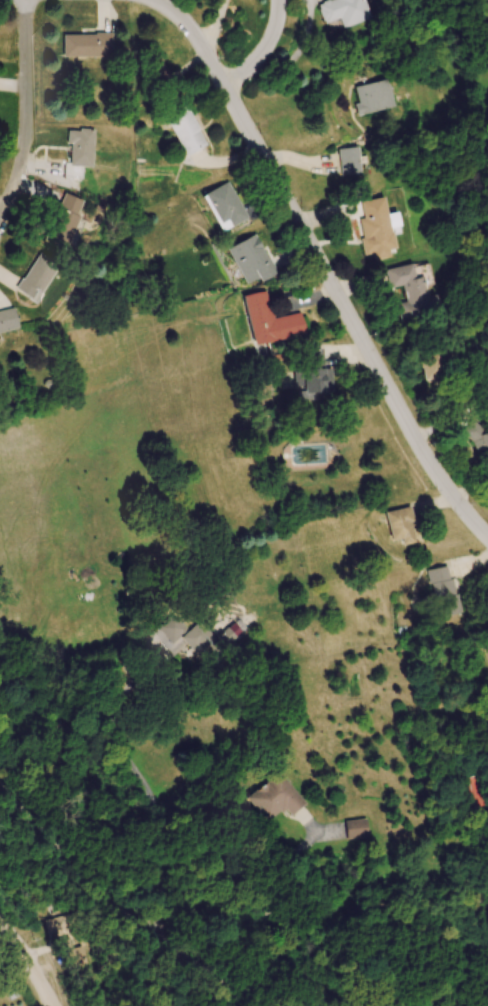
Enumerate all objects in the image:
building: (348, 12)
building: (89, 46)
road: (263, 50)
building: (156, 71)
building: (375, 98)
road: (25, 110)
building: (187, 131)
building: (81, 153)
building: (351, 162)
building: (227, 209)
building: (66, 222)
building: (380, 231)
building: (254, 263)
road: (321, 265)
building: (40, 278)
building: (416, 295)
building: (9, 323)
building: (272, 323)
building: (481, 341)
building: (437, 366)
building: (313, 386)
building: (479, 441)
road: (142, 777)
building: (275, 798)
building: (355, 828)
road: (275, 895)
road: (124, 912)
building: (63, 939)
road: (28, 964)

